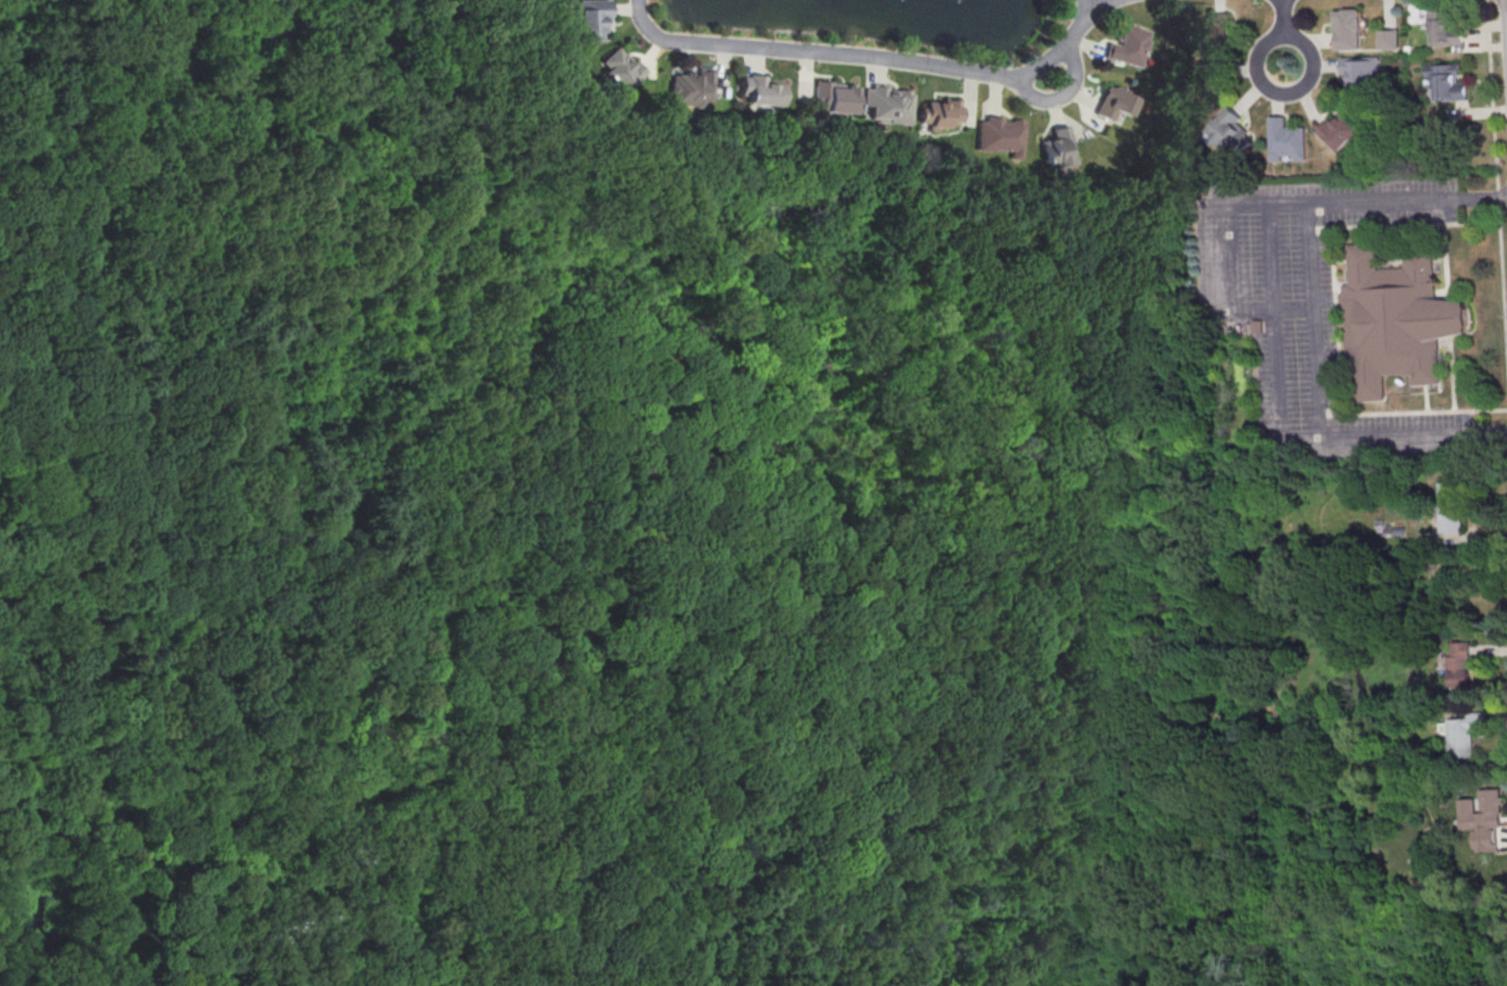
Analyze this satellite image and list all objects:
road: (1106, 4)
building: (589, 20)
building: (1350, 28)
building: (1447, 29)
road: (1285, 30)
building: (1216, 32)
building: (1389, 40)
building: (1127, 46)
road: (874, 57)
building: (620, 68)
building: (1362, 72)
building: (1213, 80)
building: (1447, 83)
building: (690, 88)
building: (761, 91)
road: (1063, 97)
building: (1112, 103)
building: (886, 104)
building: (938, 112)
building: (1344, 129)
building: (1233, 134)
building: (998, 135)
building: (1287, 140)
building: (1057, 148)
road: (1497, 170)
road: (1488, 197)
road: (650, 213)
road: (614, 229)
road: (1273, 257)
road: (979, 258)
road: (568, 273)
parking lot: (1311, 306)
road: (1245, 309)
road: (1195, 311)
road: (1185, 316)
building: (1398, 321)
road: (1314, 322)
road: (1165, 323)
building: (1258, 327)
road: (1188, 356)
road: (431, 384)
road: (1493, 434)
road: (1065, 438)
road: (196, 453)
road: (1017, 463)
road: (327, 465)
road: (1007, 480)
building: (1452, 505)
road: (1476, 539)
road: (1489, 650)
building: (1460, 664)
road: (729, 665)
road: (1498, 723)
building: (1466, 734)
road: (835, 803)
building: (1484, 819)
road: (1502, 845)
road: (330, 862)
road: (215, 899)
road: (863, 946)
road: (884, 962)

